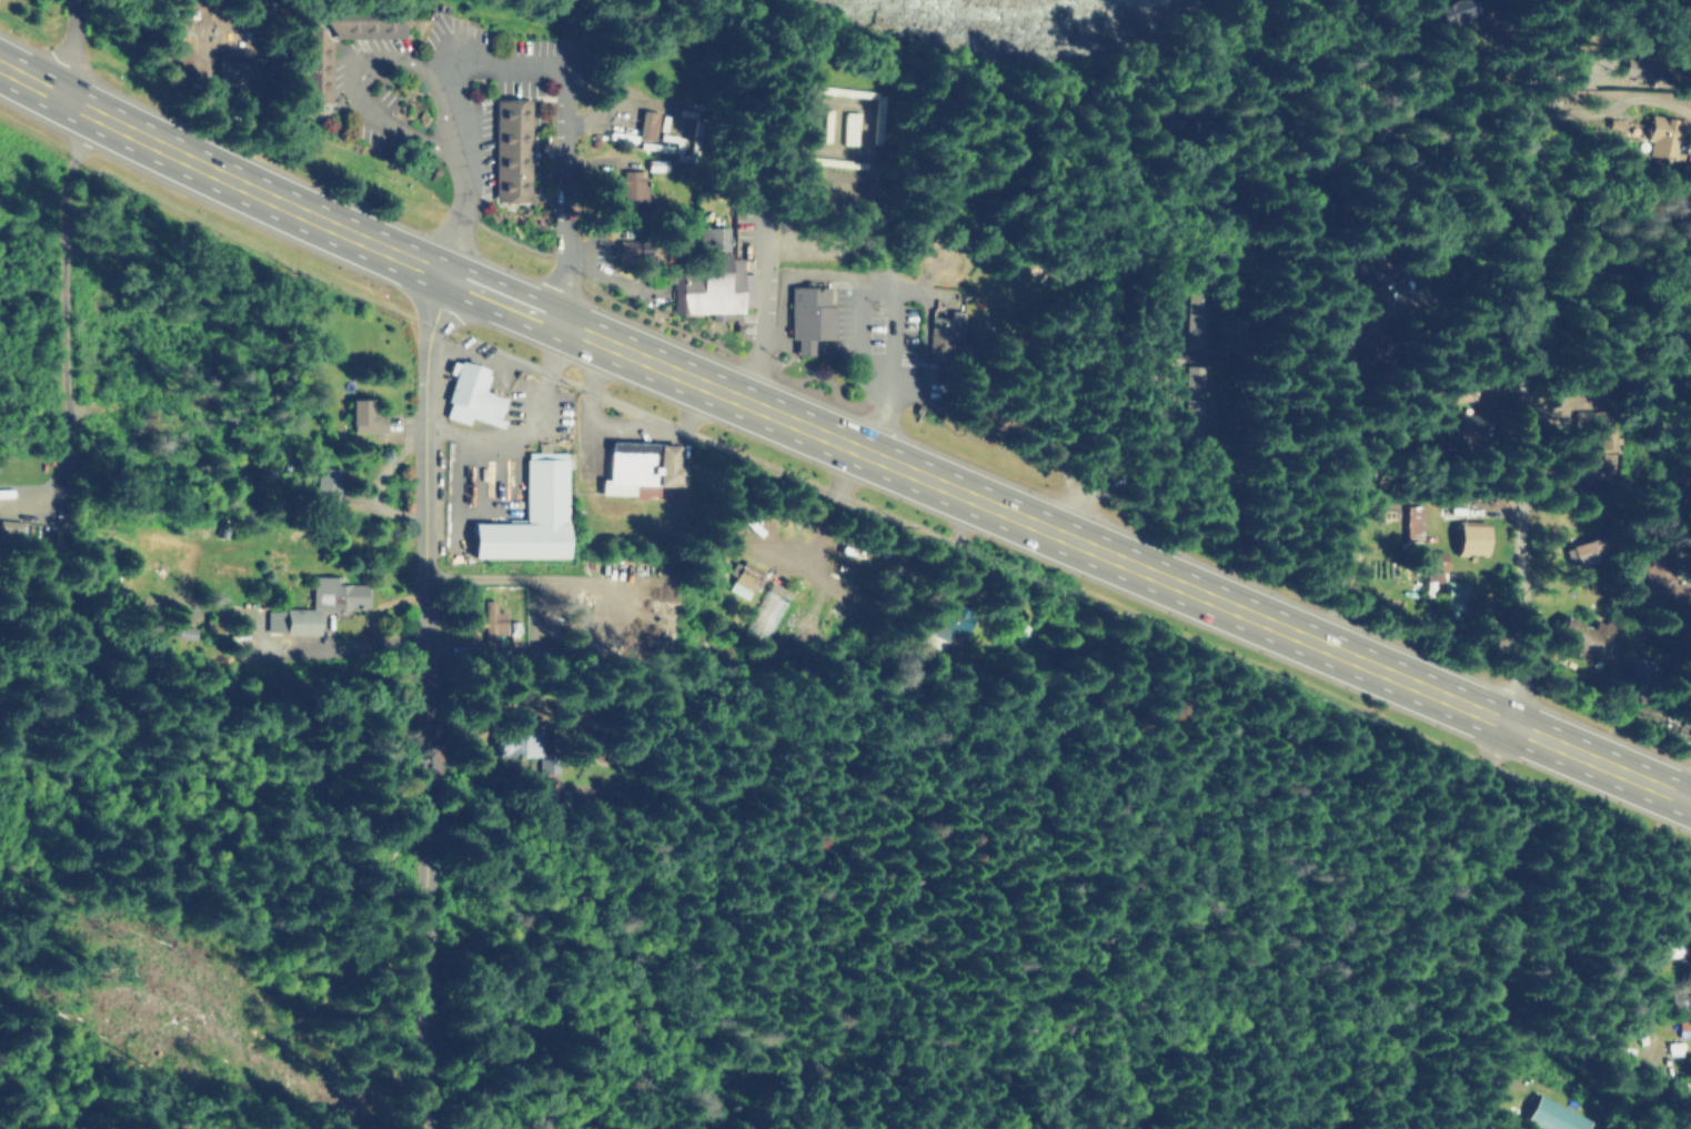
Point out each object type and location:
river: (1031, 3)
building: (1449, 8)
road: (1568, 30)
road: (526, 67)
building: (239, 69)
road: (1237, 72)
building: (1634, 74)
building: (1487, 77)
building: (1254, 103)
building: (1388, 109)
building: (646, 125)
building: (1164, 125)
building: (1665, 137)
building: (511, 149)
road: (219, 174)
building: (632, 194)
road: (1606, 195)
building: (647, 246)
building: (1368, 269)
building: (1571, 276)
road: (769, 279)
building: (715, 280)
road: (67, 295)
building: (807, 313)
road: (893, 313)
road: (1177, 320)
building: (1192, 322)
building: (1366, 334)
building: (939, 335)
road: (493, 354)
building: (1461, 389)
road: (1518, 395)
building: (471, 397)
building: (1192, 399)
building: (368, 417)
road: (527, 422)
road: (624, 424)
building: (1457, 426)
building: (1602, 439)
building: (1596, 455)
building: (641, 468)
building: (1587, 487)
building: (1654, 501)
building: (531, 511)
building: (1411, 521)
building: (11, 528)
road: (1066, 536)
building: (1471, 537)
building: (1589, 551)
building: (1431, 561)
building: (743, 577)
building: (1660, 583)
building: (1456, 589)
building: (320, 607)
building: (486, 619)
building: (952, 622)
building: (1583, 633)
building: (1635, 667)
road: (429, 700)
building: (513, 737)
road: (1689, 793)
road: (1488, 923)
building: (1682, 1015)
building: (1557, 1117)
road: (1689, 1128)

